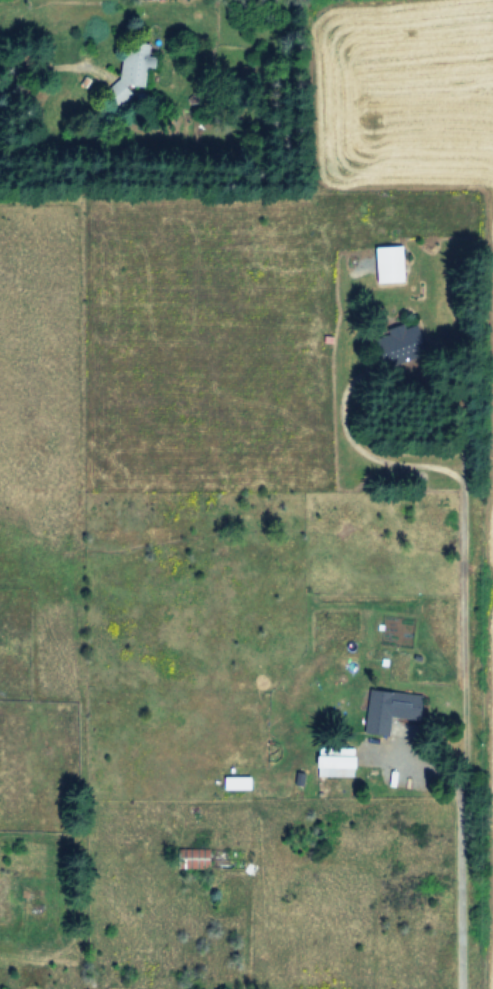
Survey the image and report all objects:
building: (136, 65)
road: (374, 386)
crop: (259, 548)
building: (392, 708)
road: (460, 735)
building: (340, 763)

